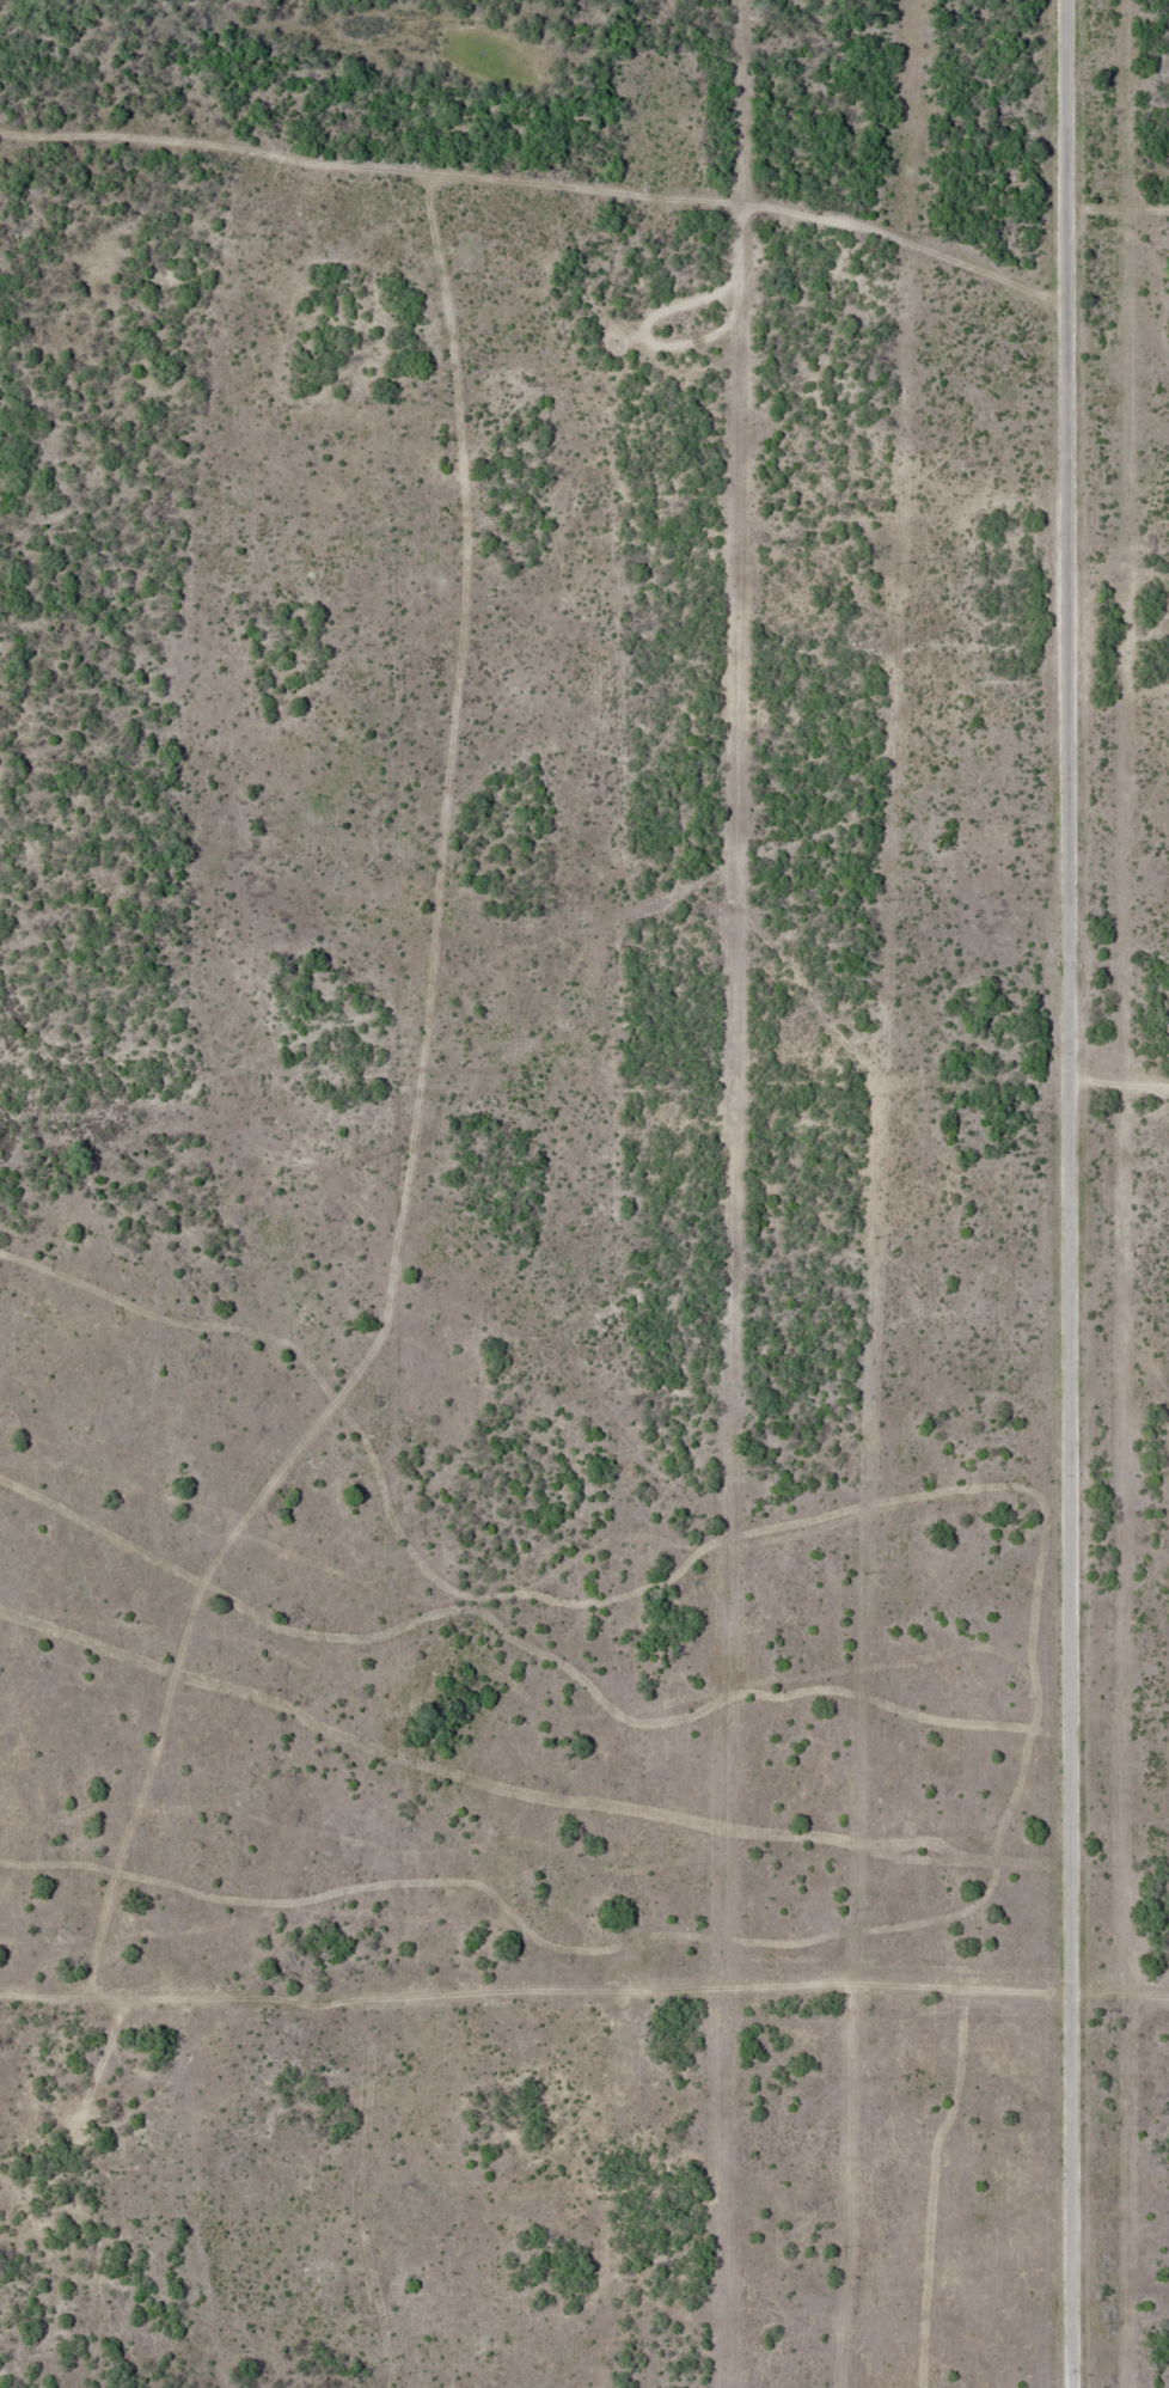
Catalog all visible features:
road: (1089, 1192)

